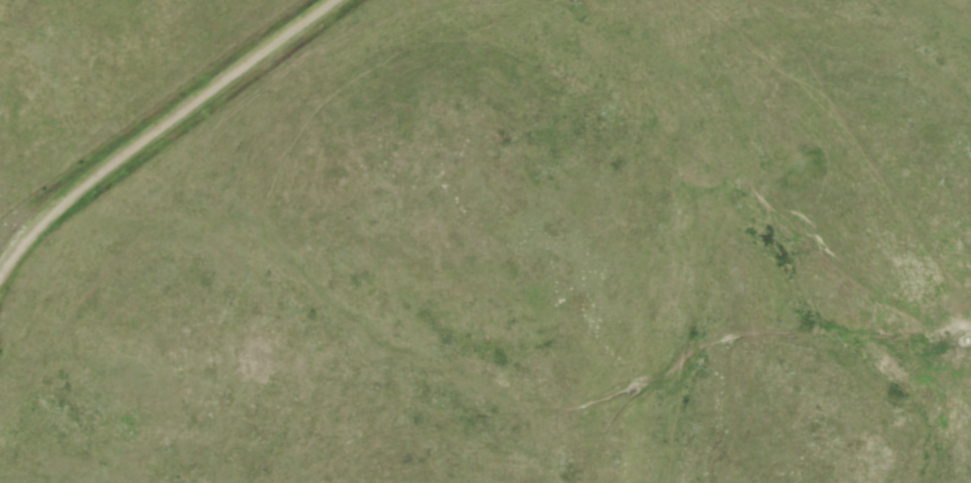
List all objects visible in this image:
road: (160, 126)

